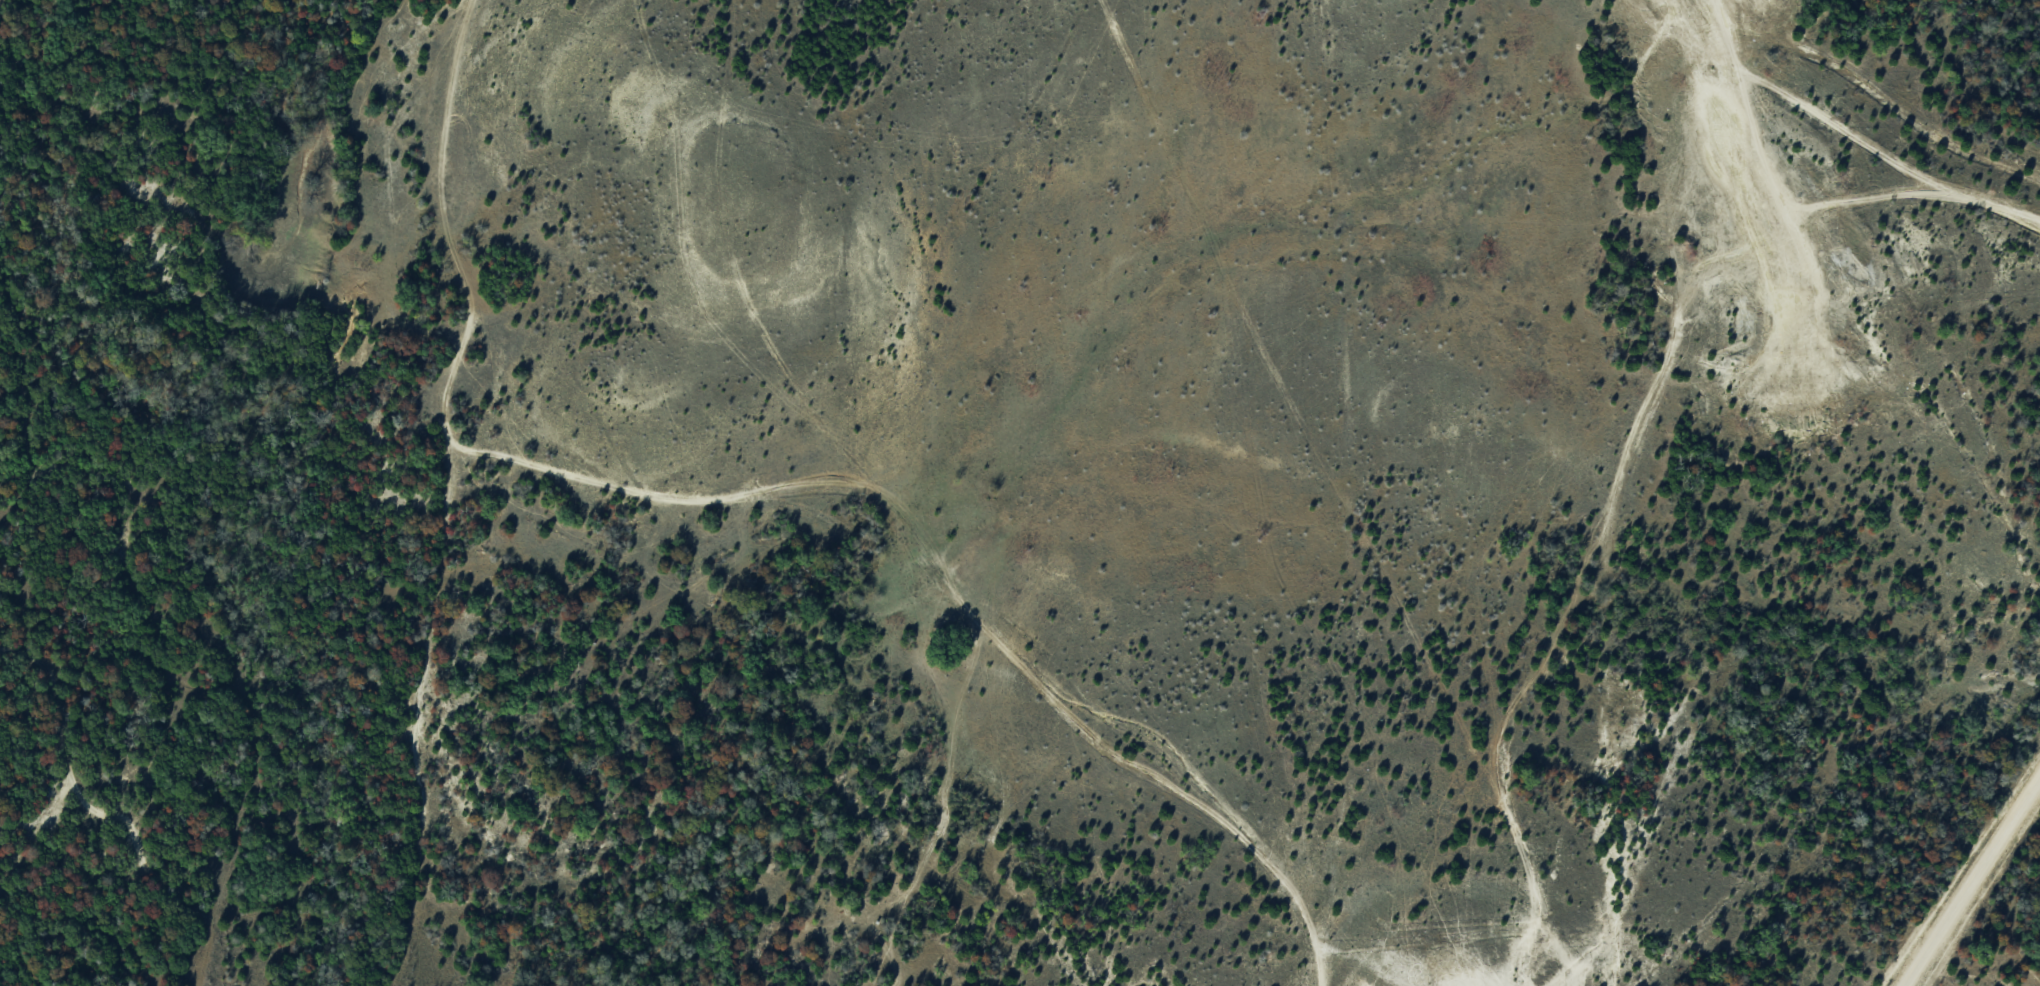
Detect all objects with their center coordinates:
road: (1971, 882)

